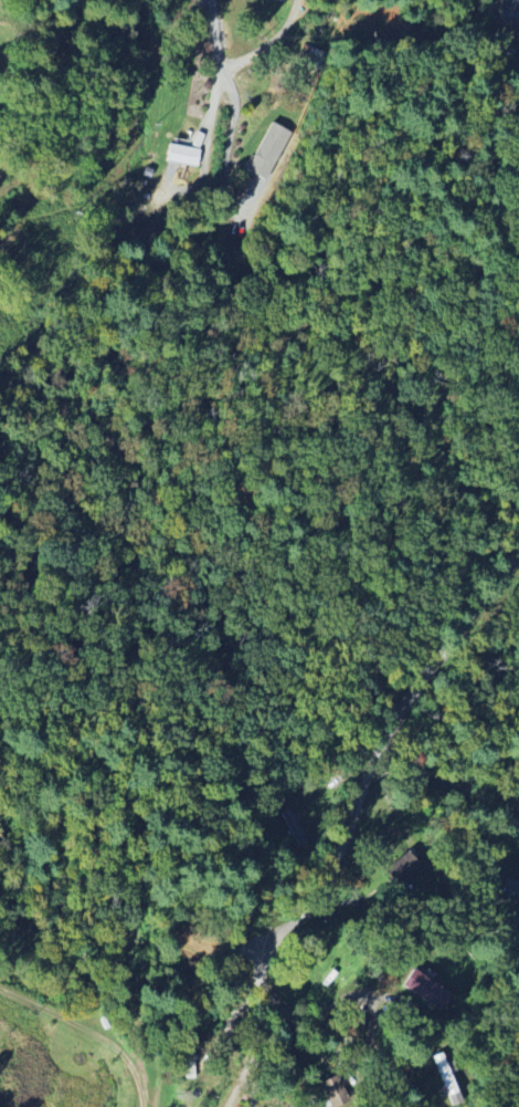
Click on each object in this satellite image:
building: (278, 0)
road: (268, 43)
road: (221, 71)
road: (49, 103)
building: (266, 152)
building: (180, 155)
road: (223, 163)
road: (455, 759)
road: (349, 826)
building: (293, 827)
building: (509, 891)
building: (425, 990)
road: (341, 1045)
building: (445, 1080)

